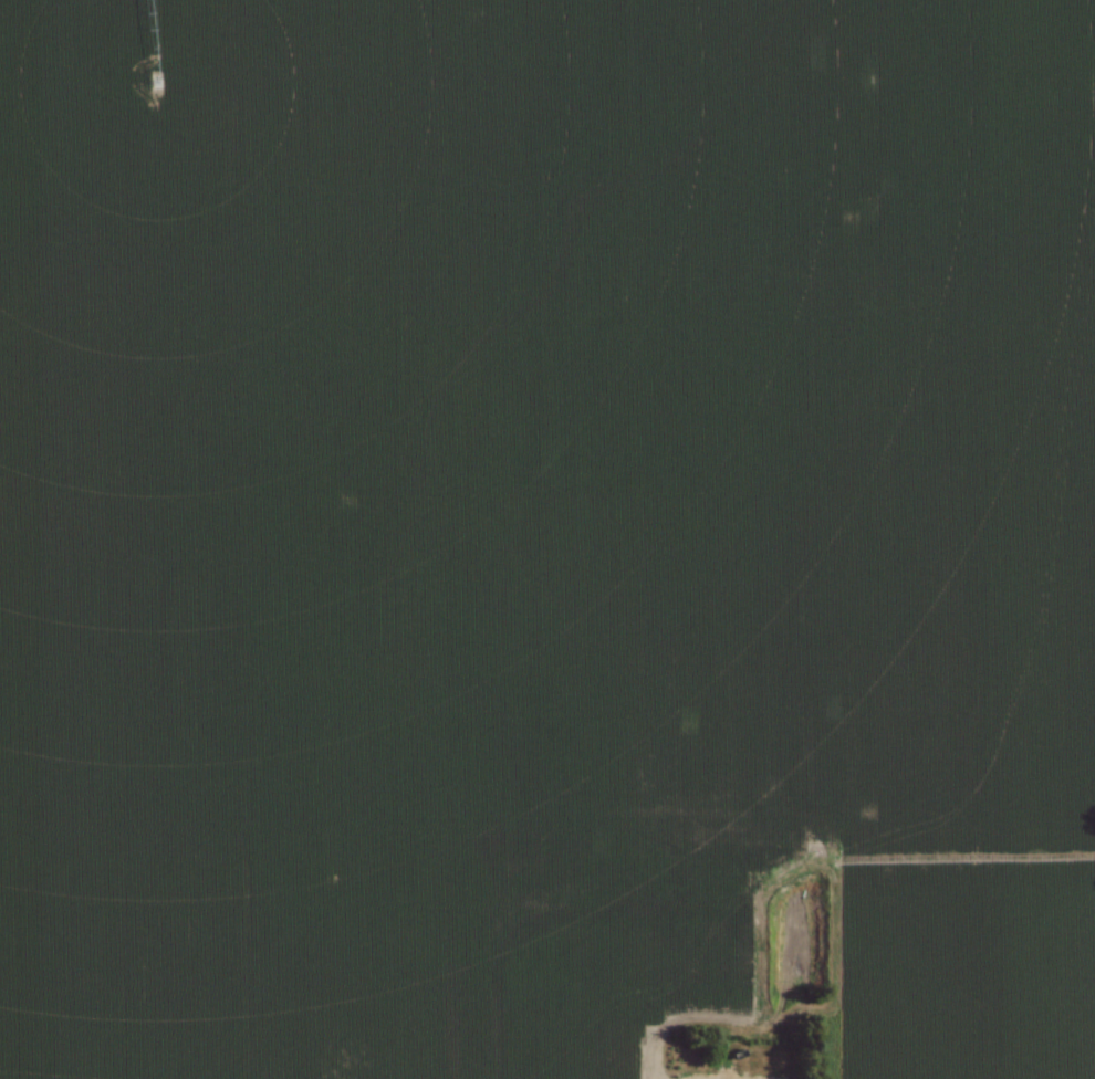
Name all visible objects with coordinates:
crop: (539, 512)
road: (611, 913)
building: (657, 942)
road: (710, 968)
silo: (518, 988)
building: (638, 1033)
building: (595, 1069)

